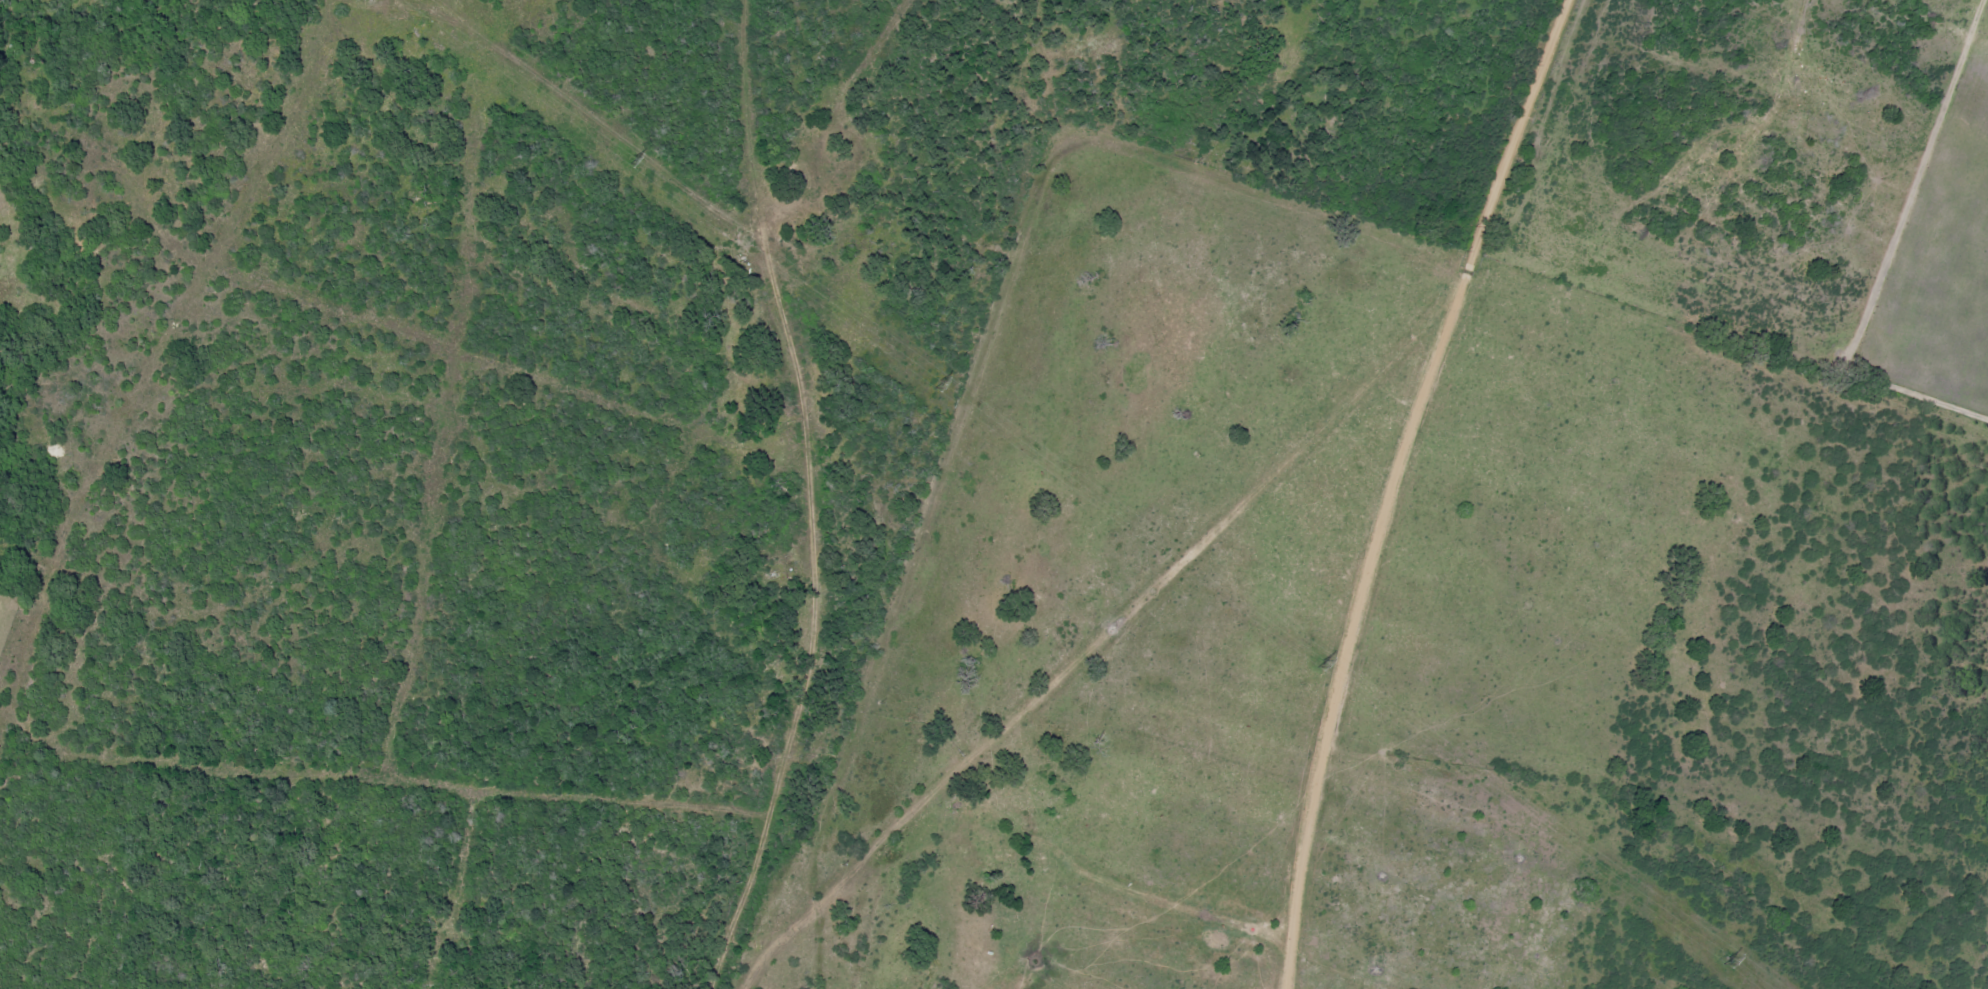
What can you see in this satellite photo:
power tower: (626, 161)
road: (1031, 290)
road: (95, 310)
power tower: (942, 383)
road: (23, 433)
road: (44, 574)
road: (1525, 610)
power tower: (1323, 663)
road: (28, 786)
road: (849, 896)
power tower: (1727, 960)

